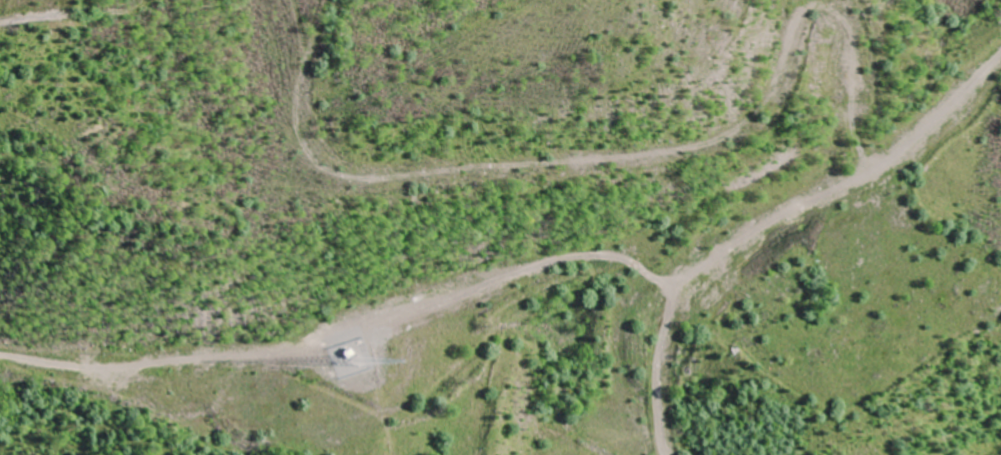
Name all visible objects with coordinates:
road: (773, 222)

